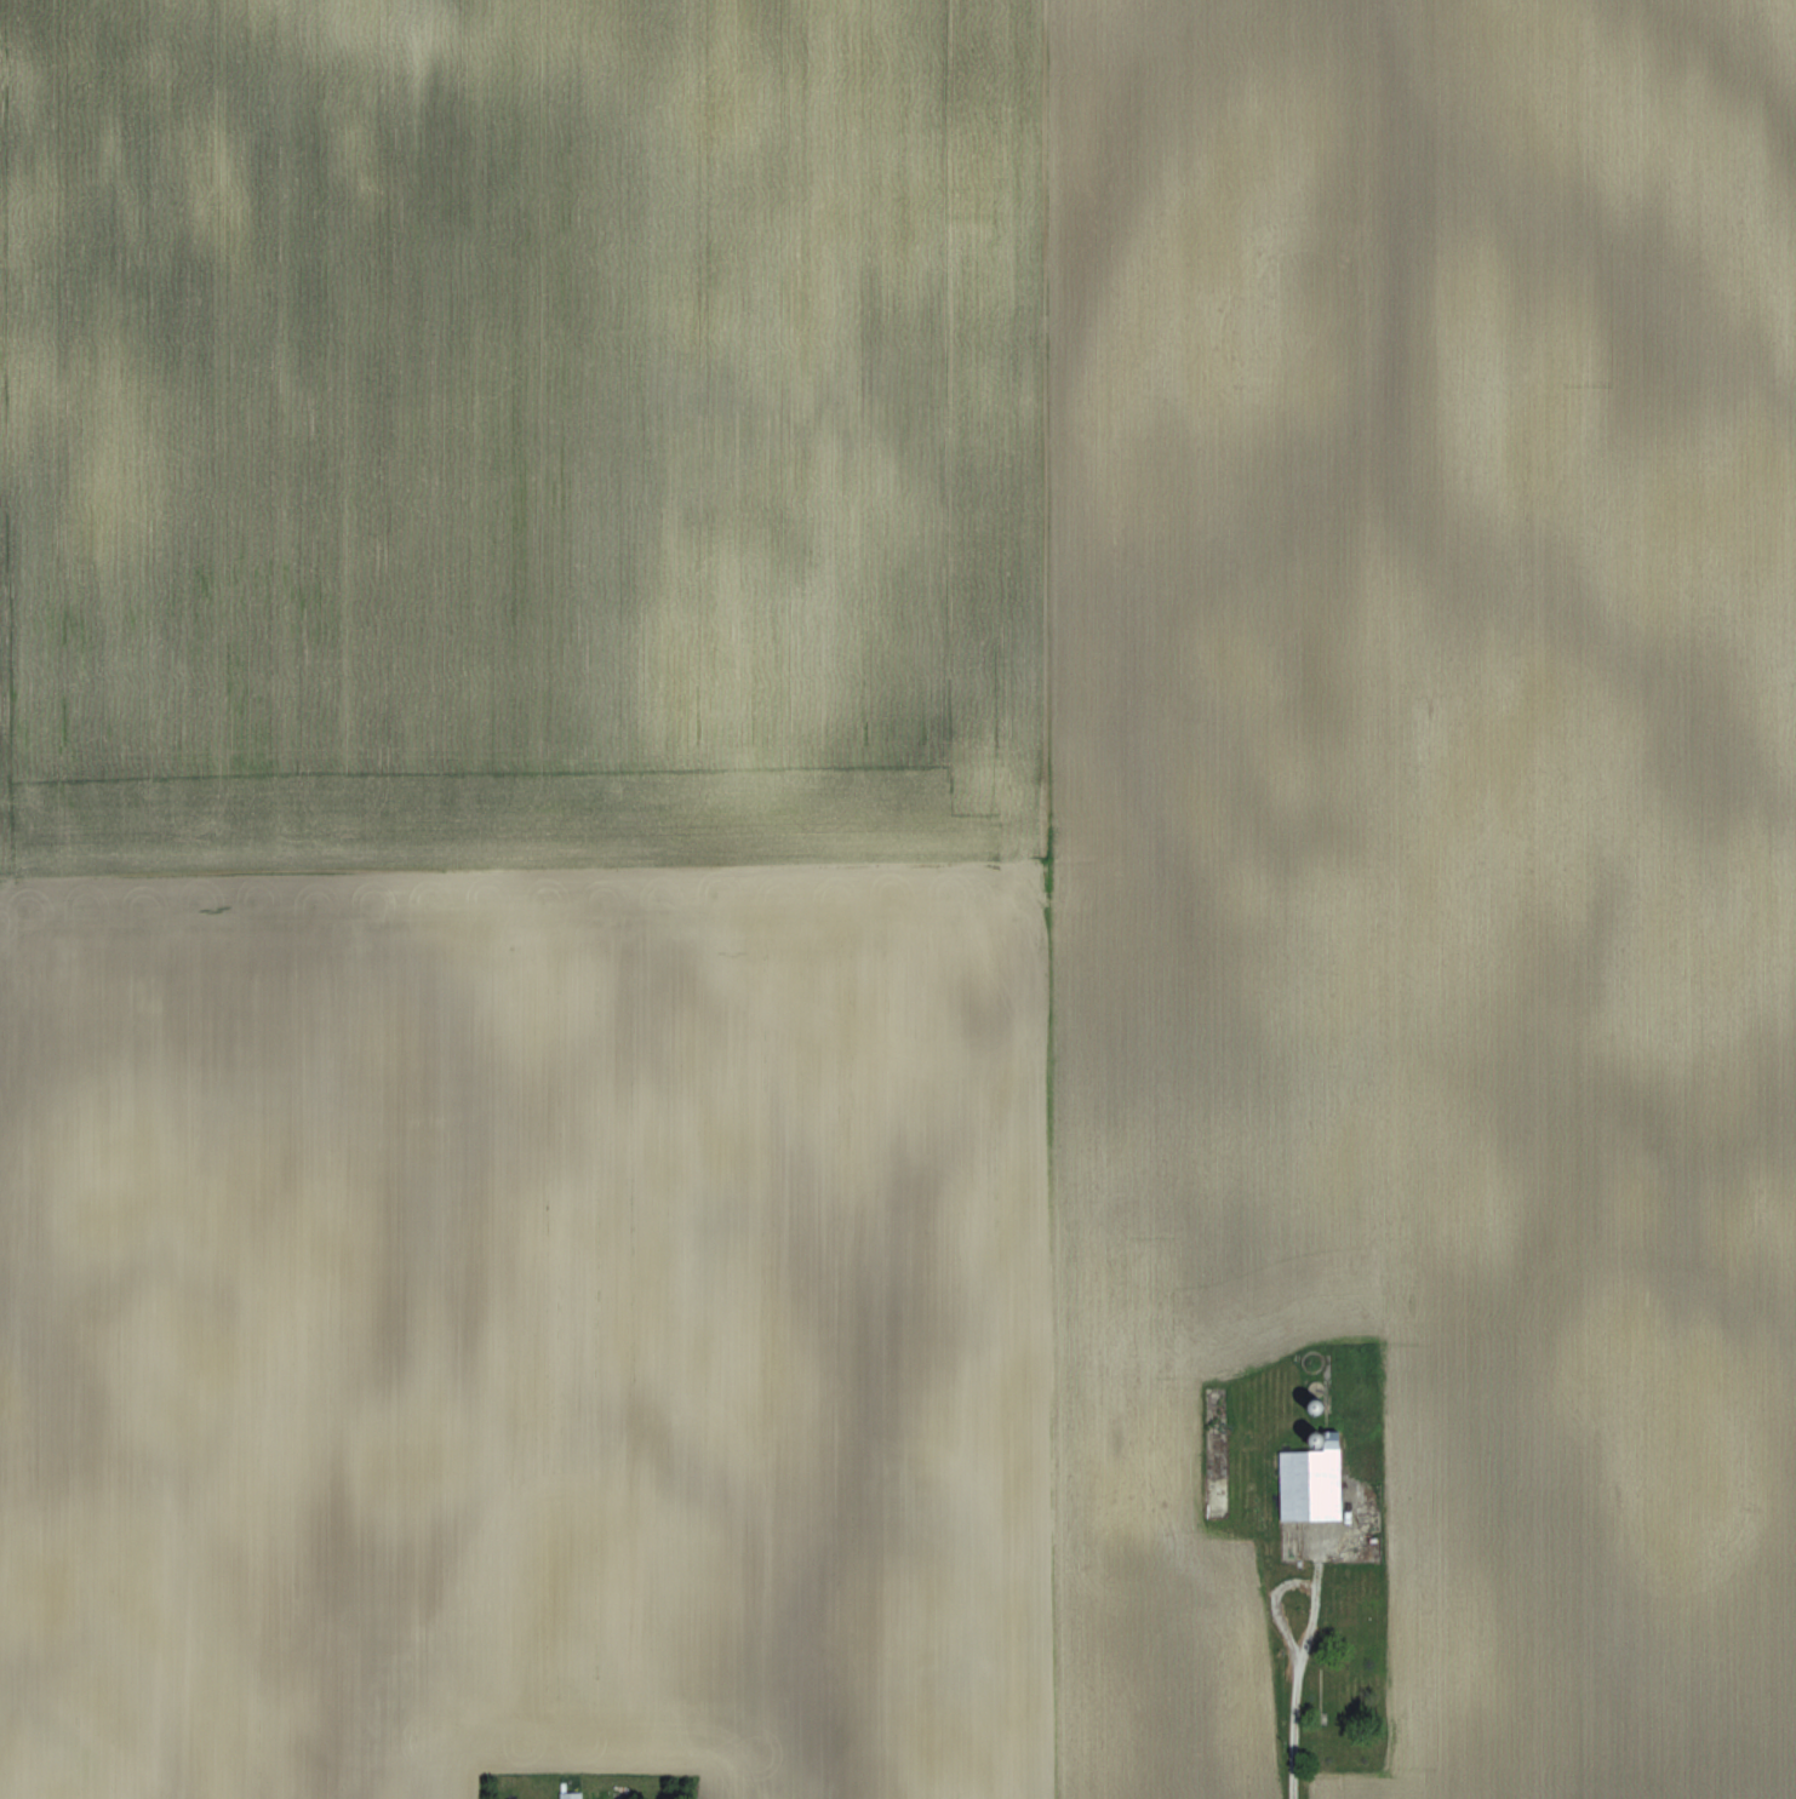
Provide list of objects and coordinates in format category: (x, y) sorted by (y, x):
building: (1312, 1484)
road: (1302, 1715)
building: (572, 1795)

